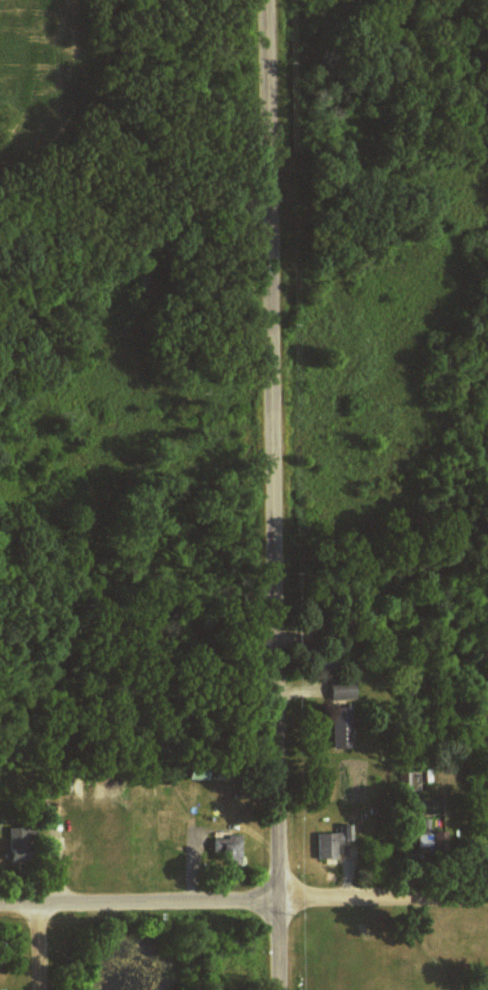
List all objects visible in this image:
road: (274, 430)
building: (339, 690)
building: (339, 727)
building: (409, 781)
building: (13, 836)
building: (330, 841)
building: (7, 861)
road: (384, 902)
road: (139, 904)
road: (280, 924)
road: (39, 948)

